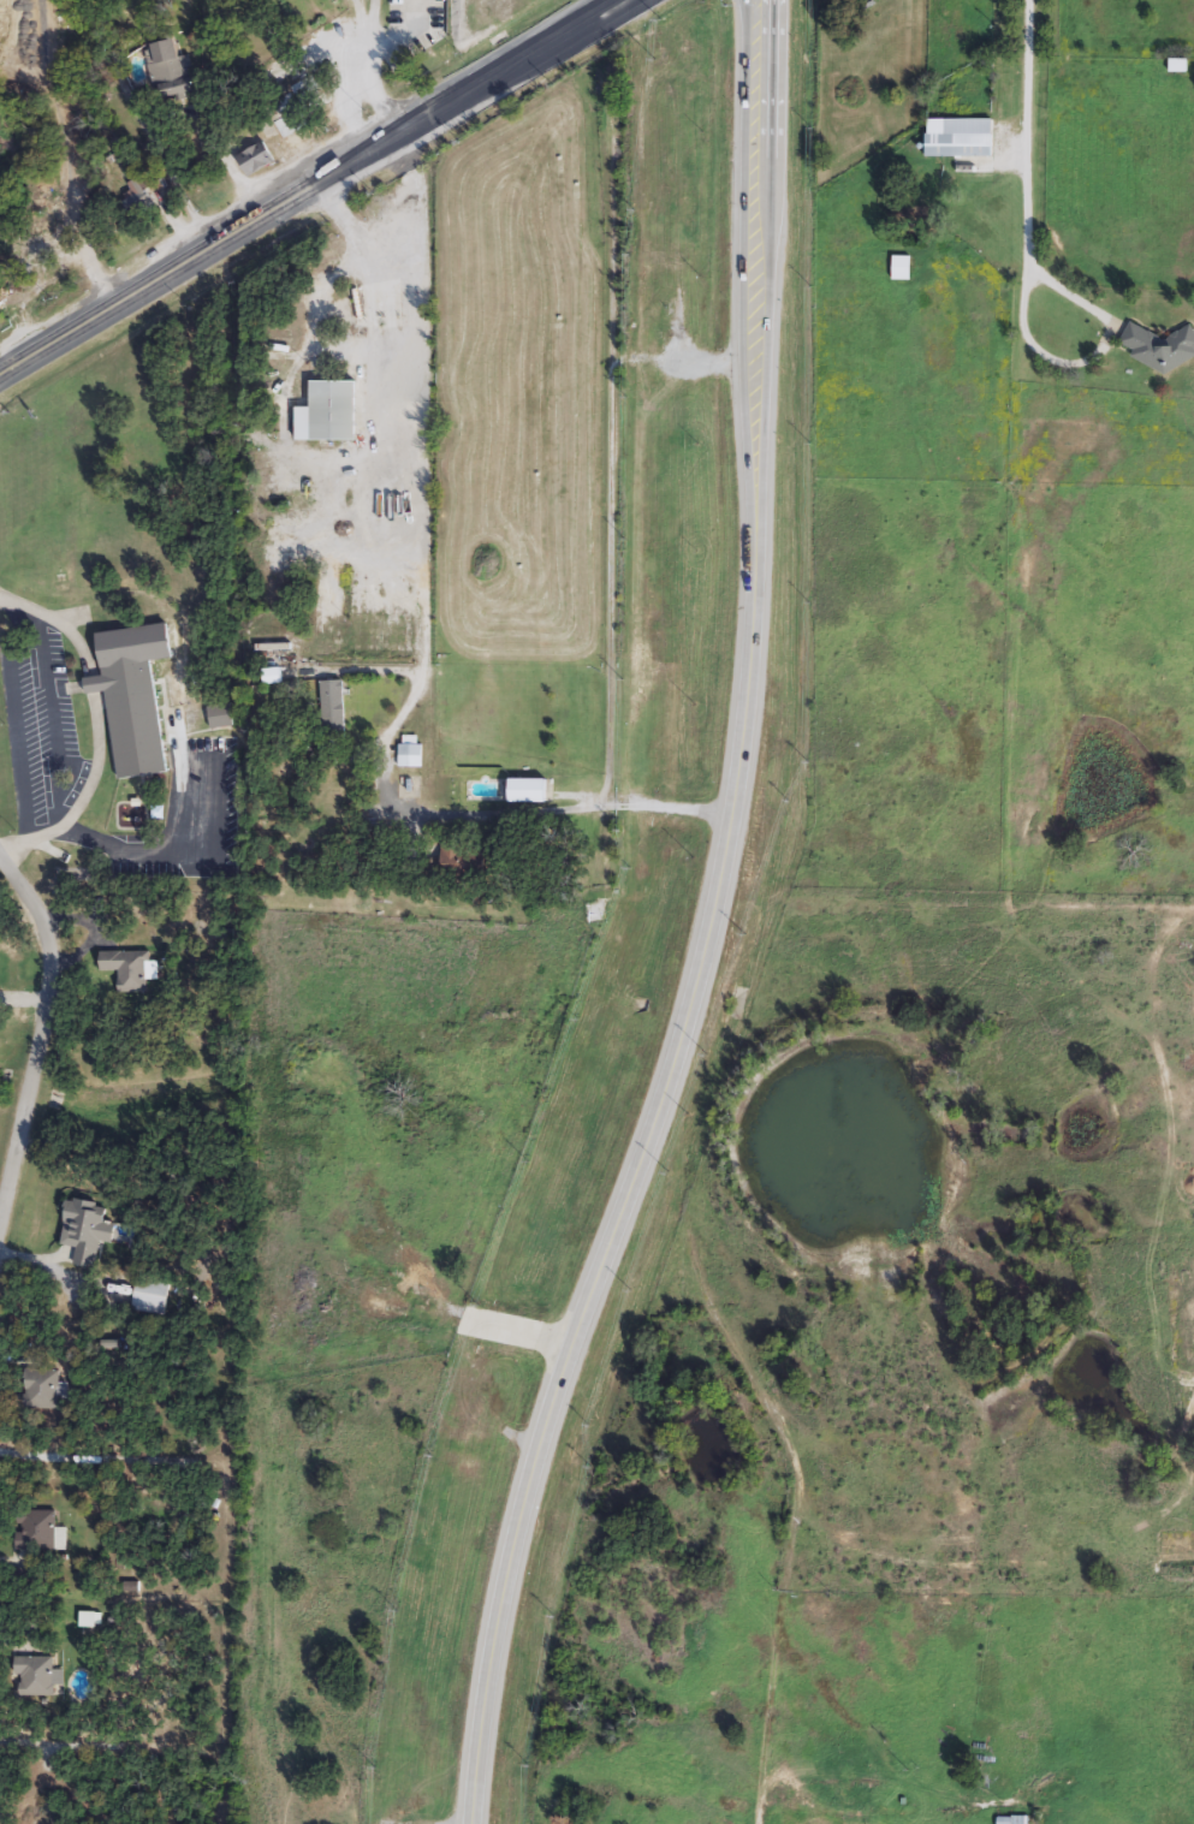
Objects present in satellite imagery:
building: (160, 2)
building: (791, 6)
building: (950, 6)
road: (756, 17)
building: (744, 26)
road: (364, 60)
building: (1178, 66)
building: (173, 71)
building: (280, 75)
road: (345, 101)
building: (794, 103)
road: (174, 117)
building: (309, 117)
road: (1030, 127)
building: (961, 139)
road: (64, 160)
building: (260, 160)
road: (314, 189)
building: (141, 197)
road: (355, 228)
building: (903, 269)
building: (2, 299)
building: (667, 329)
building: (1160, 349)
building: (638, 353)
road: (1092, 357)
building: (332, 414)
road: (754, 446)
road: (415, 456)
building: (688, 534)
road: (60, 623)
road: (93, 688)
building: (135, 697)
building: (334, 711)
building: (221, 717)
building: (411, 757)
building: (530, 792)
road: (84, 798)
road: (488, 816)
road: (176, 851)
building: (458, 861)
building: (131, 970)
road: (40, 1038)
building: (87, 1231)
building: (152, 1295)
road: (572, 1350)
building: (46, 1390)
building: (40, 1532)
building: (36, 1676)
building: (1015, 1820)

